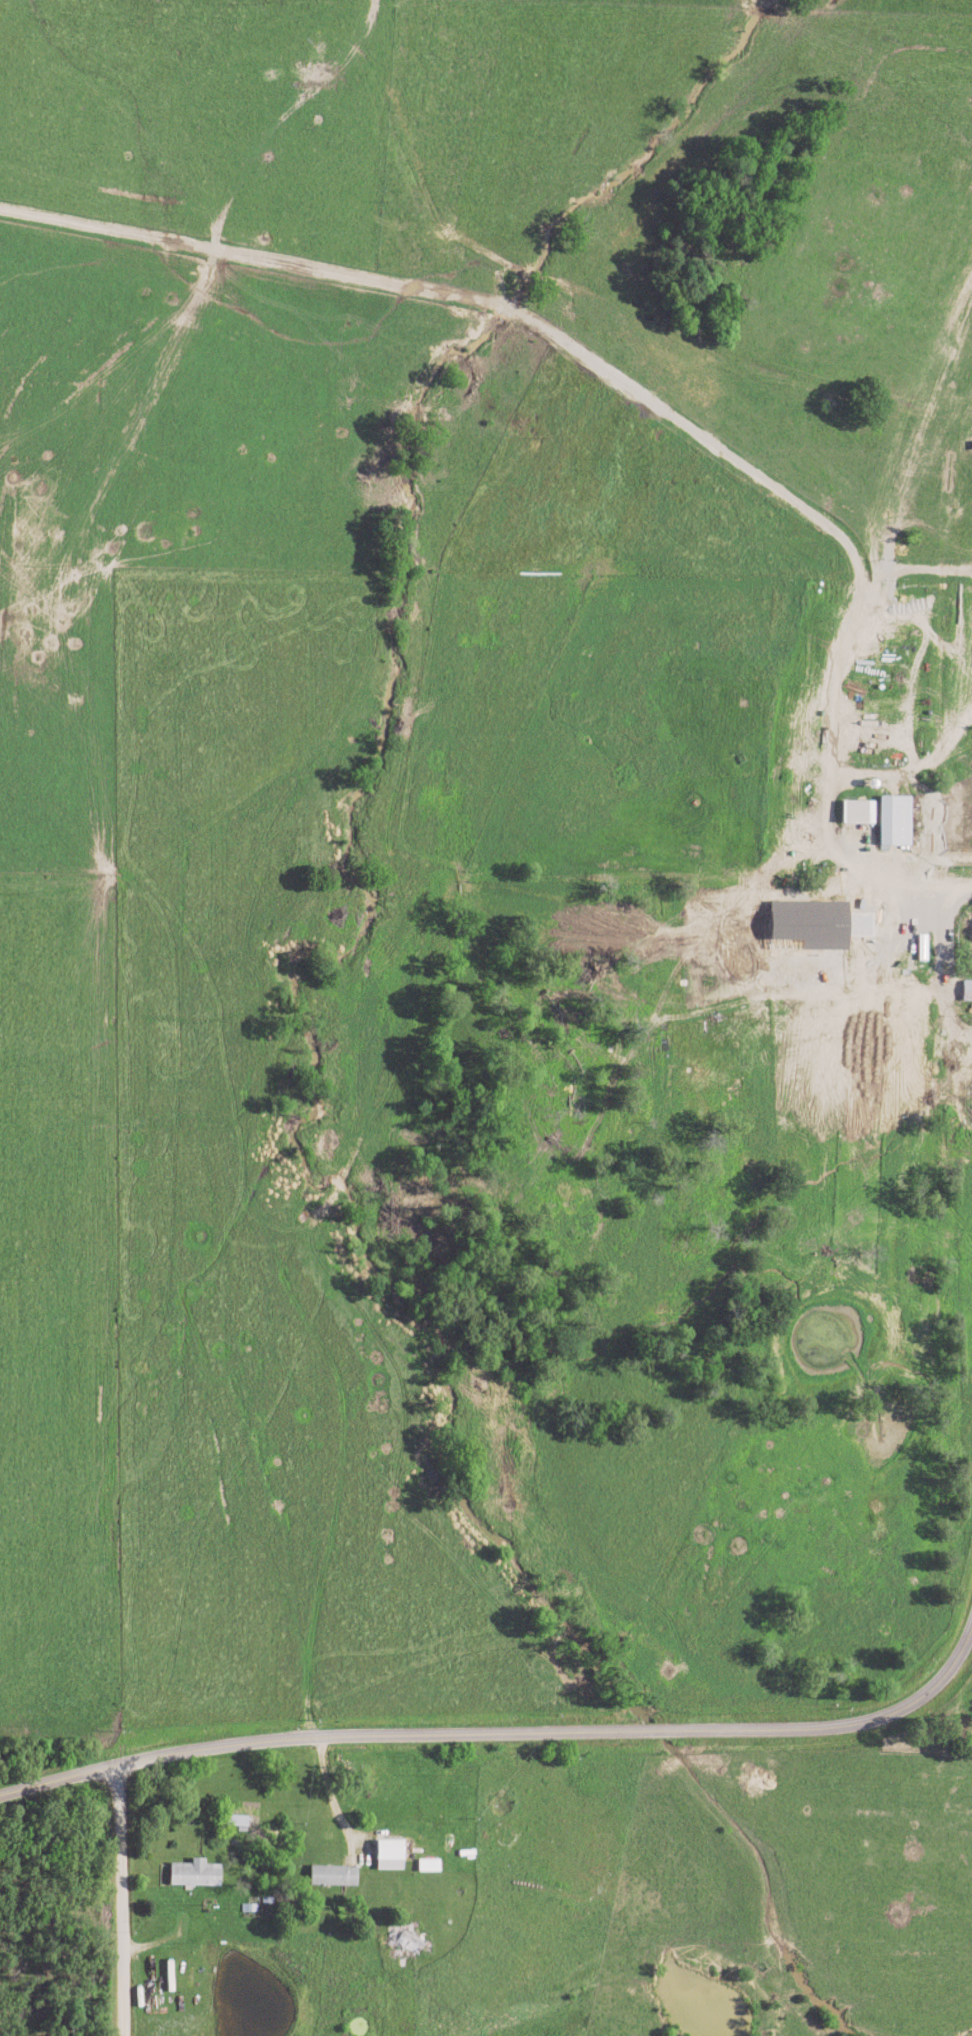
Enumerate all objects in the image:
road: (828, 595)
building: (859, 813)
building: (896, 822)
crop: (487, 865)
building: (810, 926)
building: (968, 992)
road: (506, 1729)
road: (332, 1799)
building: (238, 1823)
building: (389, 1856)
building: (428, 1866)
building: (195, 1874)
building: (333, 1877)
road: (125, 1900)
building: (408, 1943)

